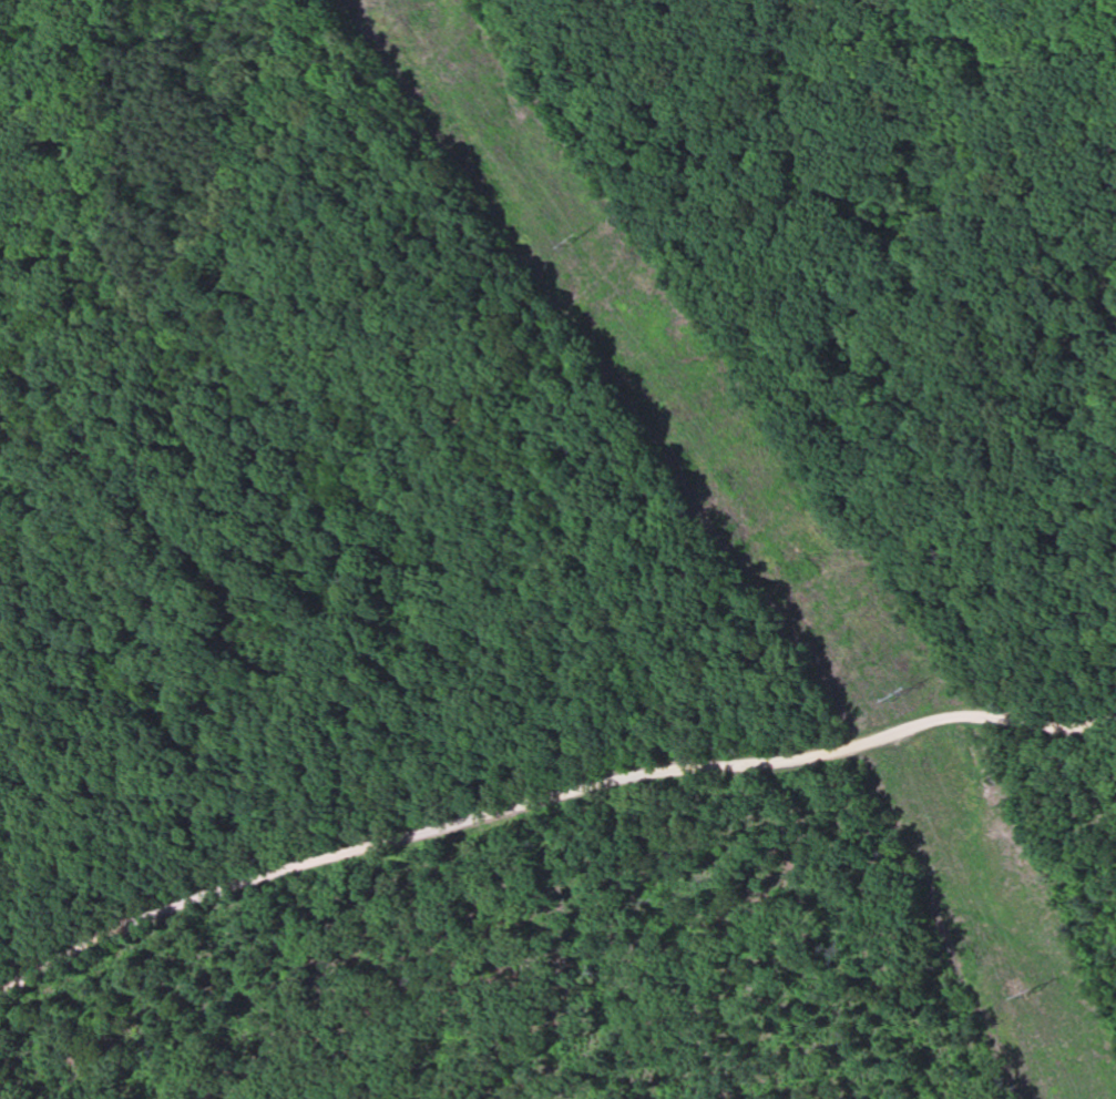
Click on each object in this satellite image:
road: (545, 805)

